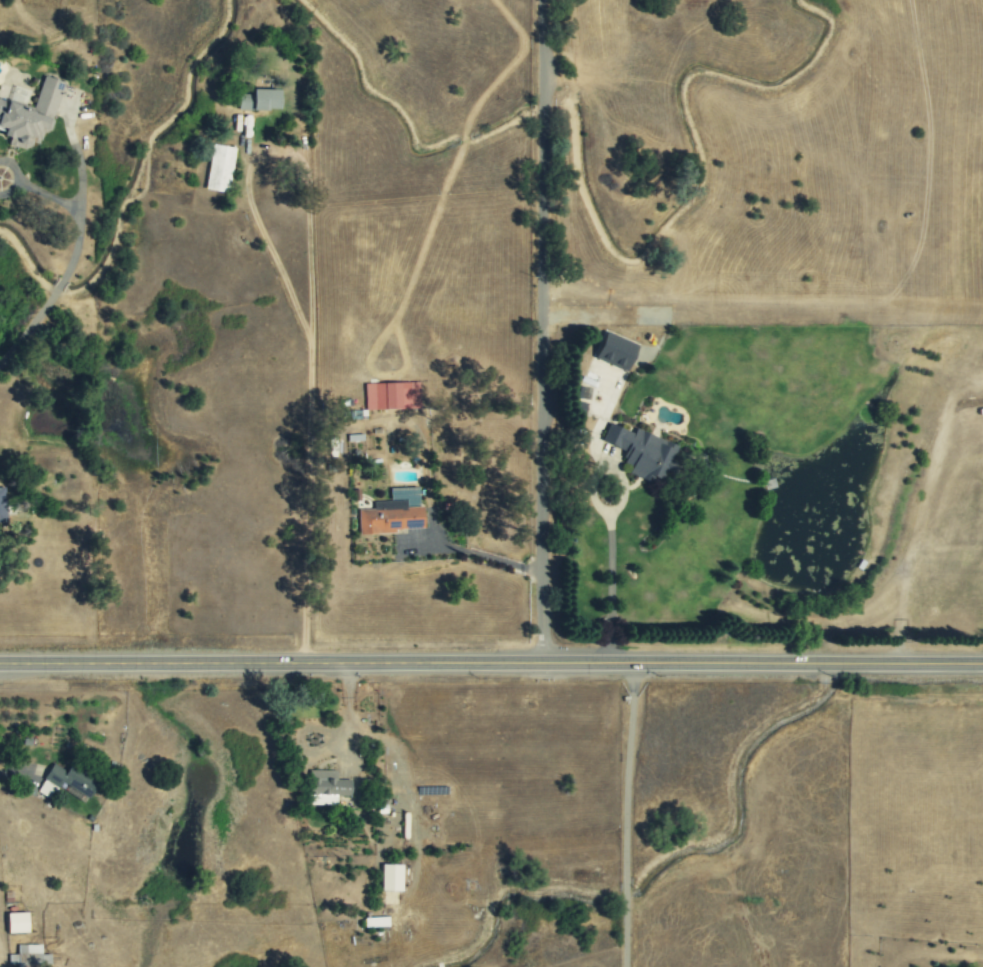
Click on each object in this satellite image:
building: (259, 100)
building: (30, 115)
building: (220, 168)
road: (77, 249)
road: (312, 287)
road: (544, 332)
building: (615, 351)
building: (392, 396)
building: (641, 452)
building: (3, 506)
building: (393, 513)
road: (483, 558)
road: (612, 588)
road: (491, 665)
building: (70, 779)
building: (326, 787)
road: (627, 815)
building: (391, 877)
building: (16, 922)
building: (29, 957)

